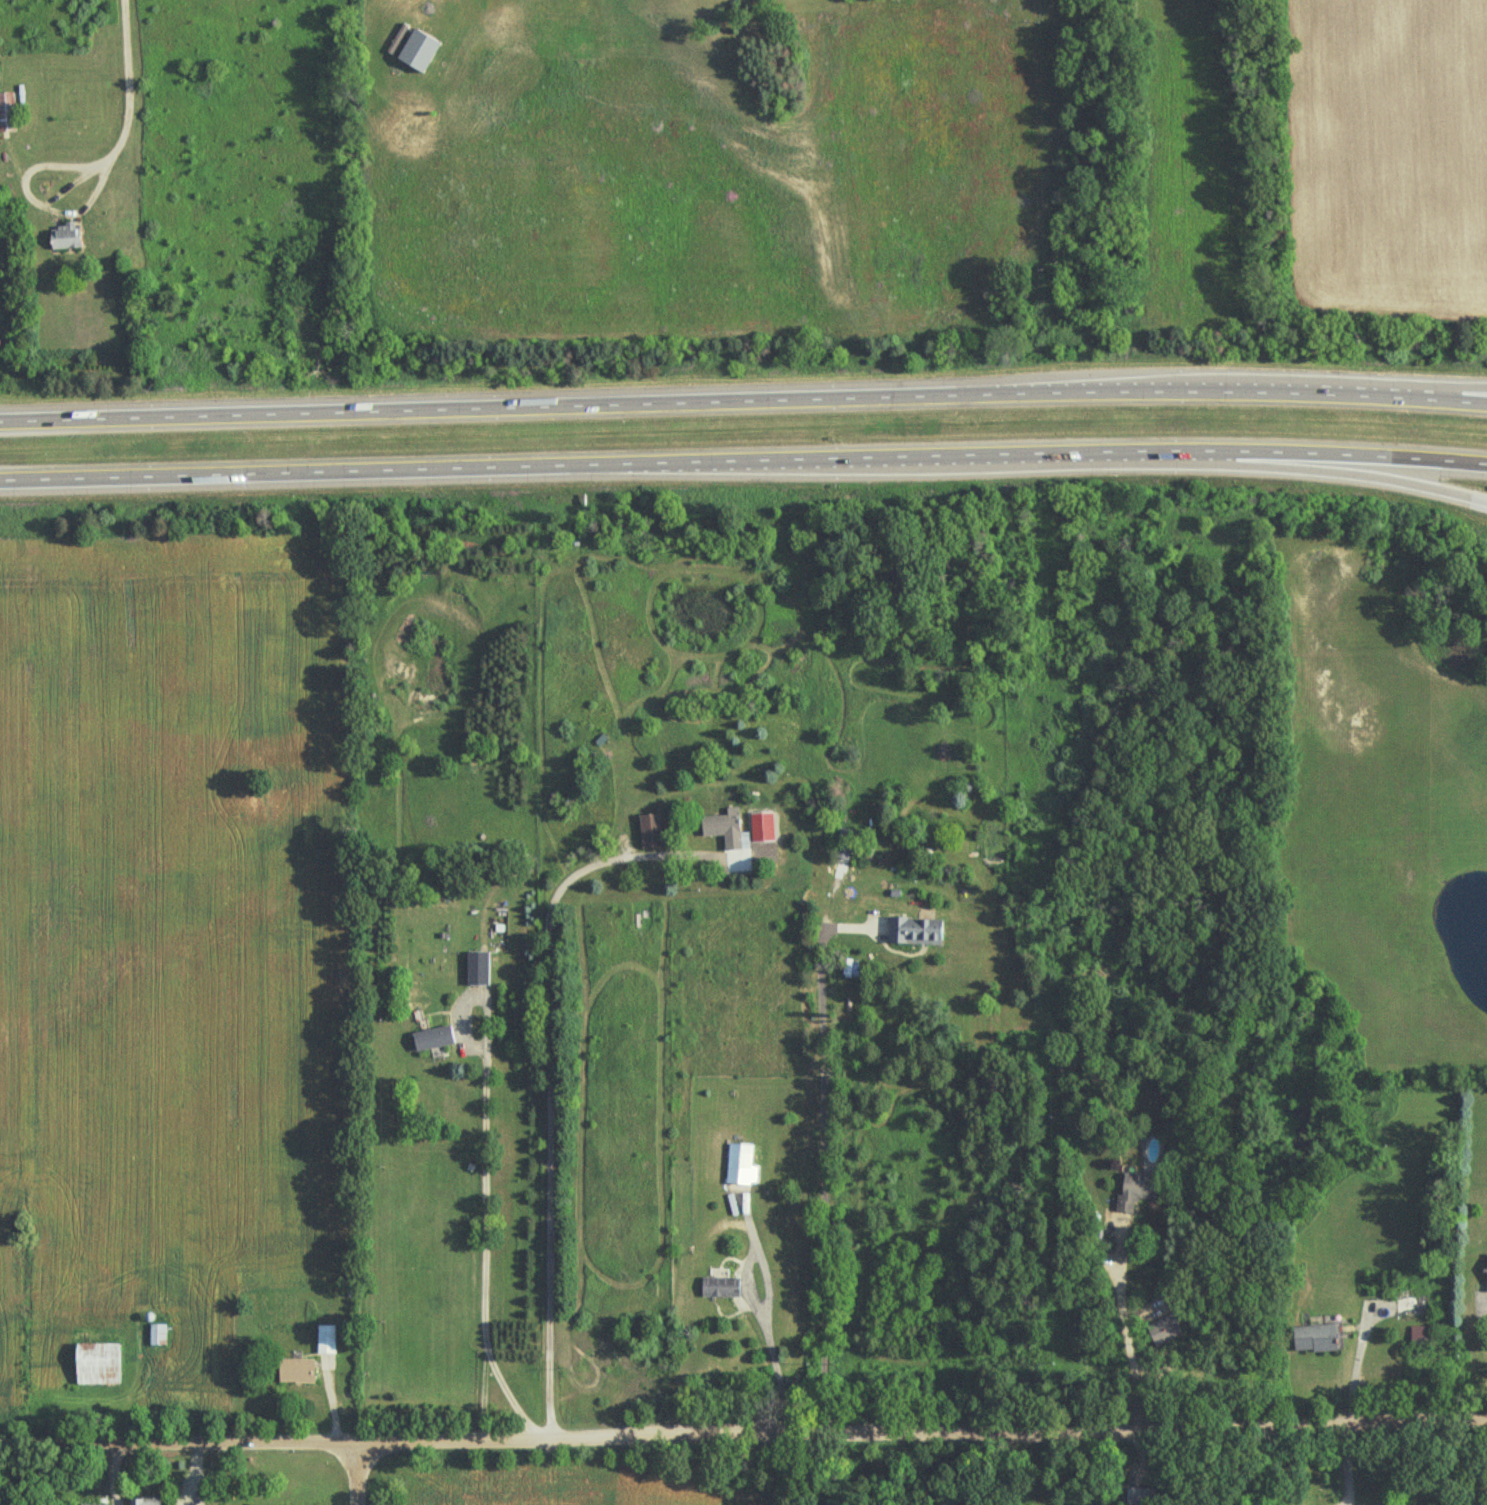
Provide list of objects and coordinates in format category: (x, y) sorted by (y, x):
building: (420, 49)
road: (129, 85)
building: (7, 110)
crop: (1388, 158)
road: (30, 198)
building: (65, 237)
road: (1420, 390)
road: (743, 400)
road: (743, 460)
road: (1315, 470)
building: (723, 826)
building: (652, 829)
building: (843, 845)
building: (862, 851)
crop: (169, 913)
building: (915, 929)
building: (478, 968)
building: (432, 1037)
road: (548, 1073)
road: (824, 1150)
building: (740, 1164)
building: (1136, 1189)
road: (484, 1219)
building: (1486, 1274)
building: (718, 1287)
road: (767, 1298)
building: (1409, 1304)
road: (1126, 1327)
building: (1419, 1334)
building: (1313, 1337)
building: (325, 1338)
building: (98, 1357)
building: (295, 1369)
road: (743, 1425)
road: (359, 1471)
crop: (556, 1487)
building: (1135, 1496)
building: (145, 1501)
building: (93, 1502)

